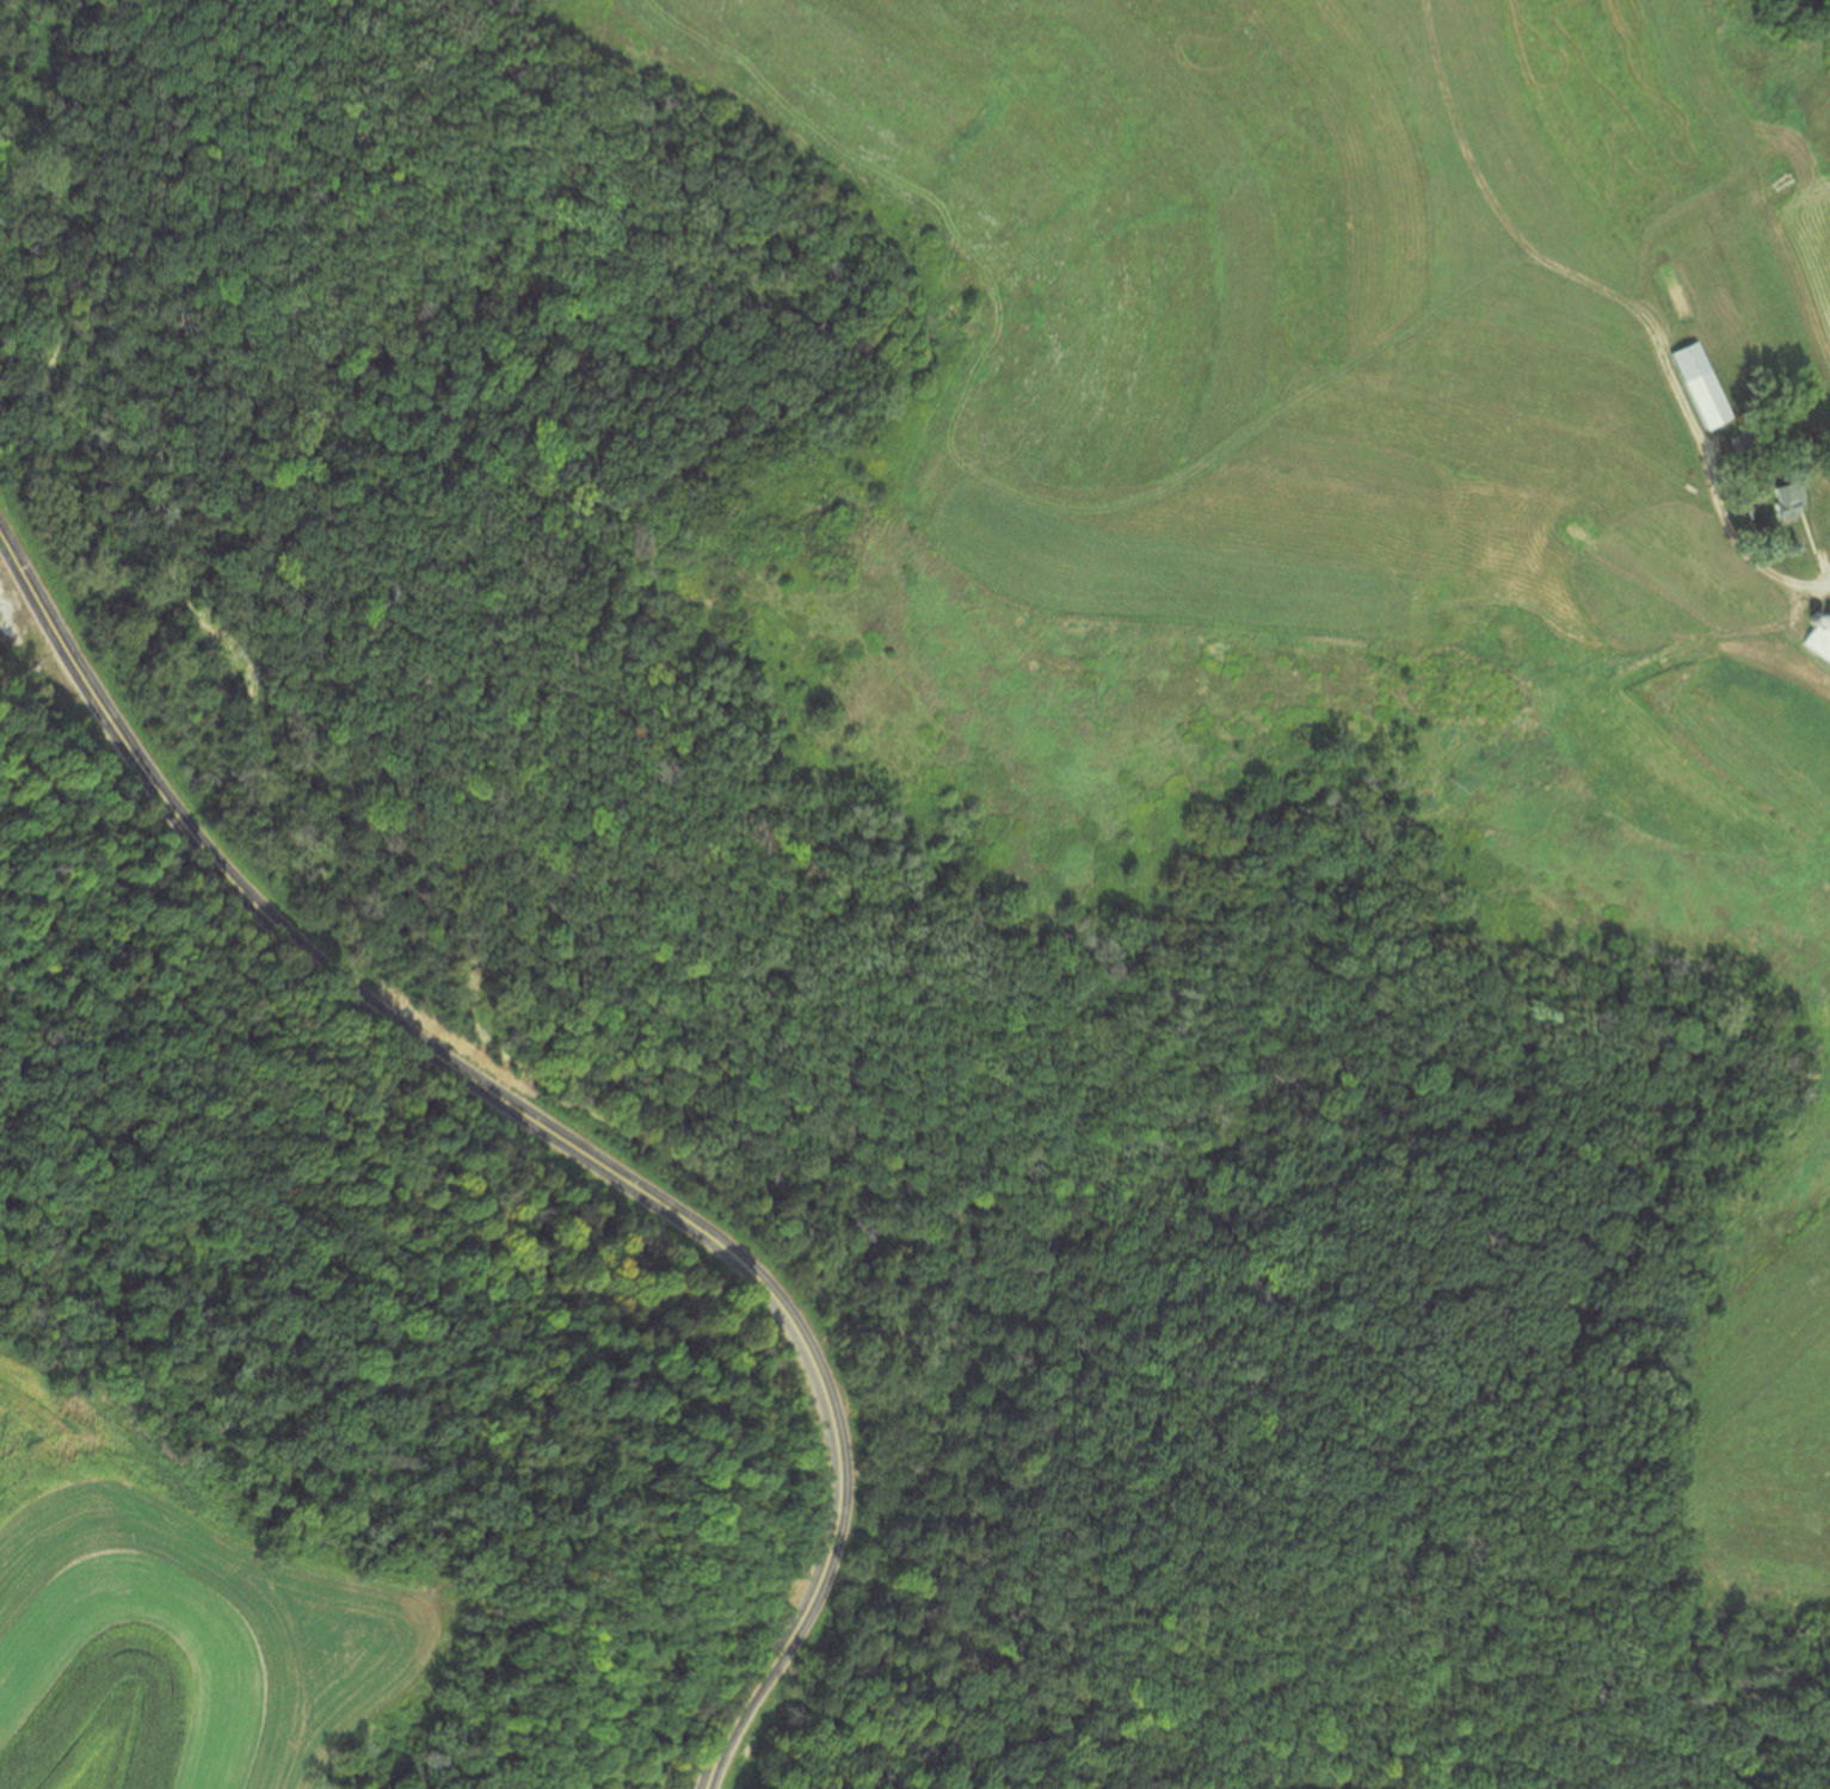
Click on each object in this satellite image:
building: (1696, 383)
building: (1783, 498)
building: (1819, 635)
road: (542, 1131)

